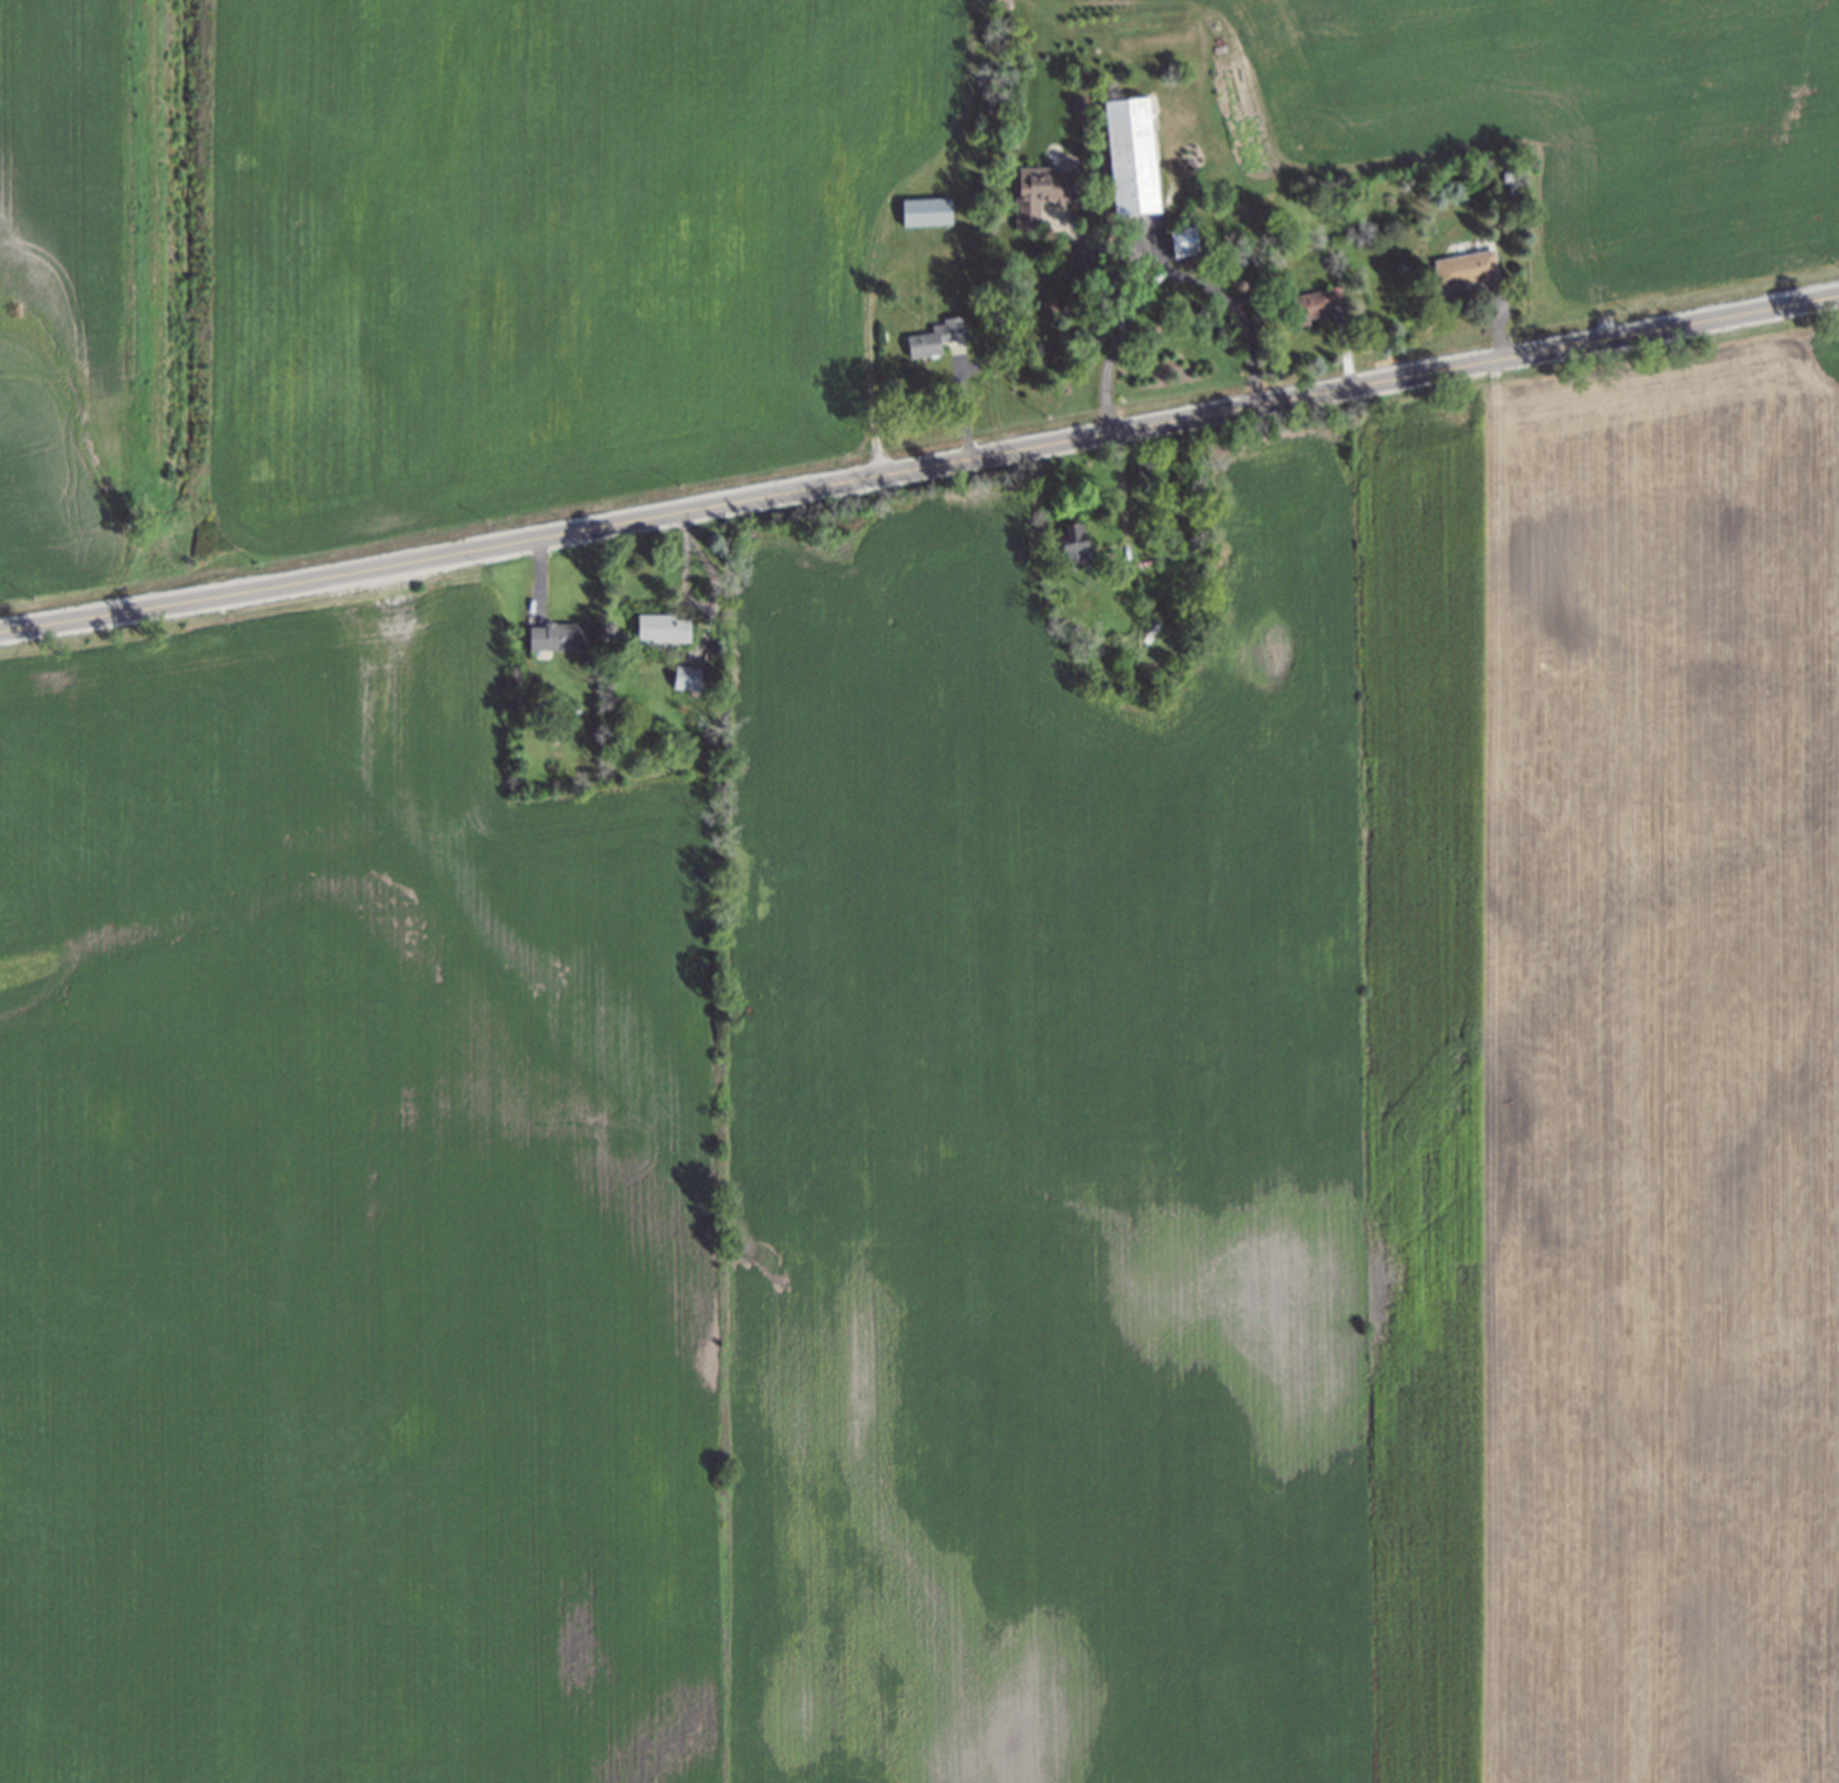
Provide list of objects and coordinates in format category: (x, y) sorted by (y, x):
building: (1131, 155)
building: (1040, 191)
building: (926, 210)
building: (1183, 240)
building: (1466, 267)
road: (1164, 274)
building: (1321, 301)
road: (868, 335)
building: (938, 336)
road: (919, 470)
building: (1073, 542)
building: (662, 628)
building: (559, 635)
building: (686, 678)
crop: (963, 1146)

